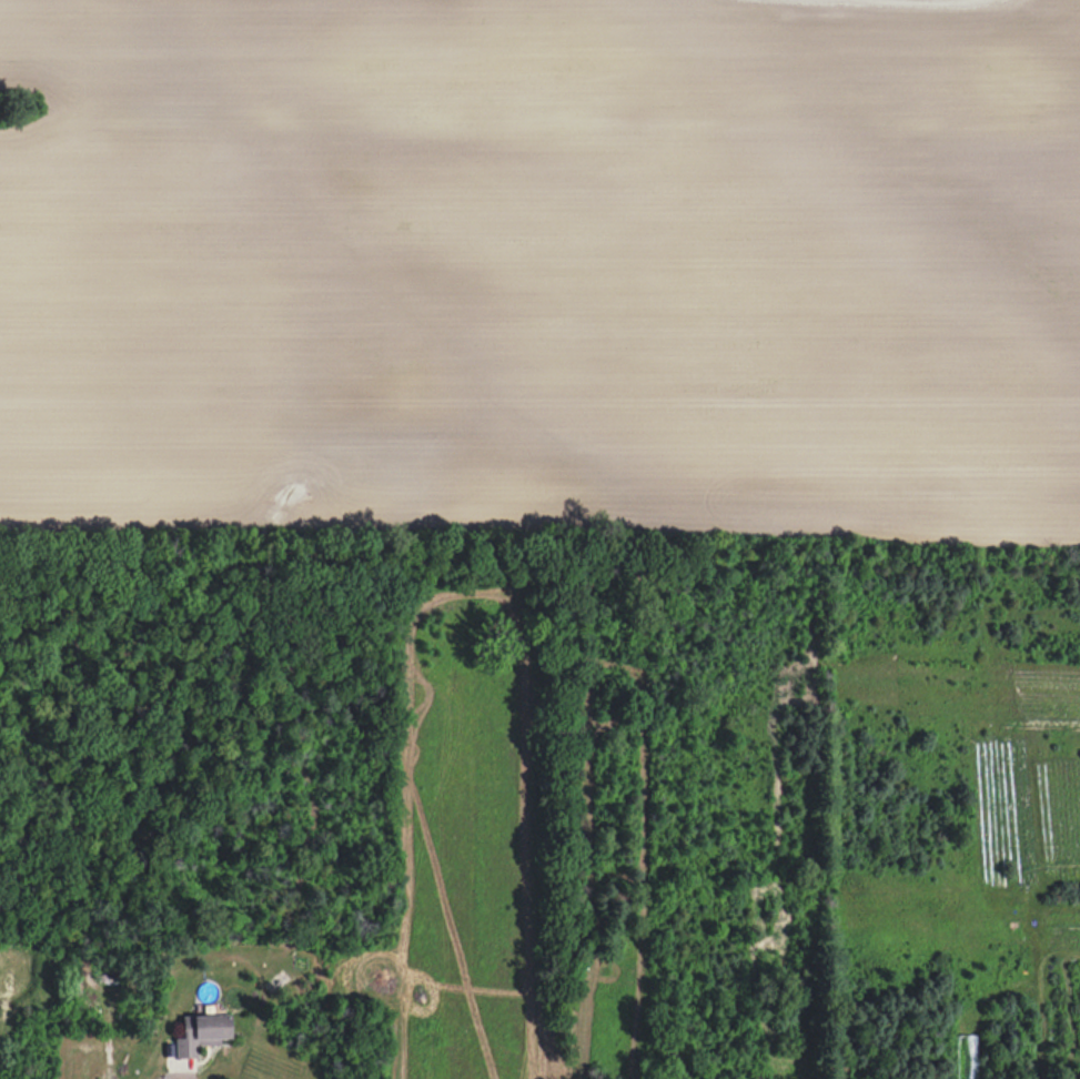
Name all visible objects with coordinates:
building: (202, 1033)

